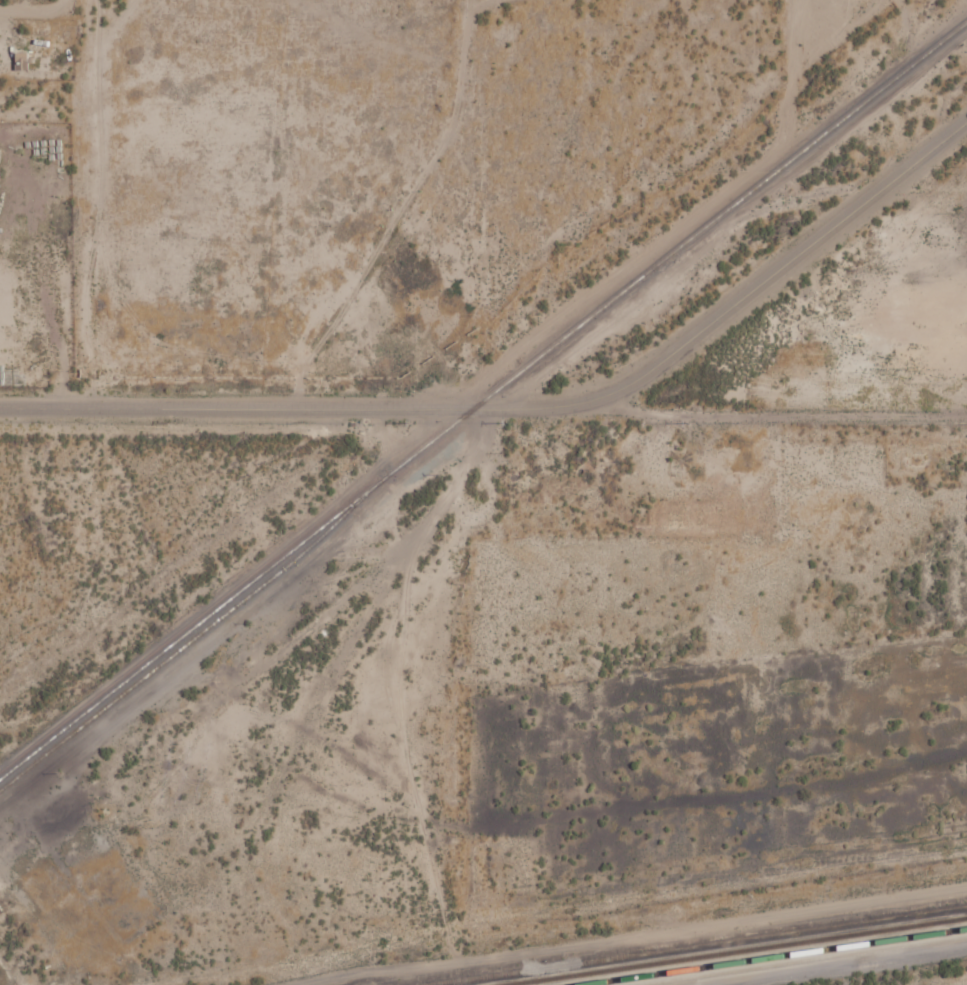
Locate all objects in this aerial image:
building: (21, 61)
road: (768, 298)
railway: (483, 399)
road: (483, 409)
railway: (187, 642)
road: (372, 645)
railway: (697, 943)
railway: (732, 950)
railway: (770, 956)
railway: (802, 960)
road: (955, 983)

